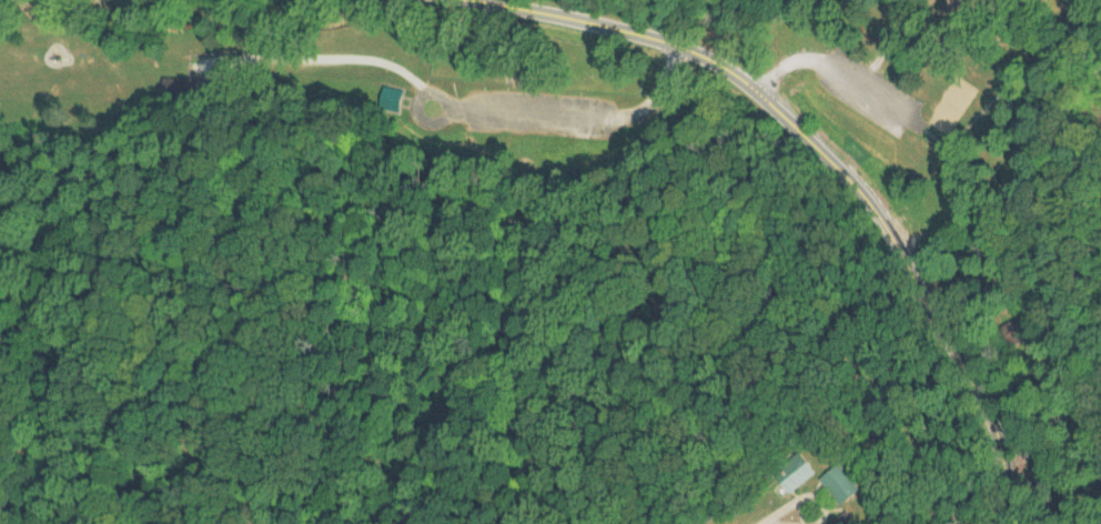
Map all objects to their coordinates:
road: (648, 37)
road: (856, 52)
road: (358, 71)
road: (932, 294)
building: (797, 471)
building: (845, 484)
building: (826, 497)
road: (806, 520)

